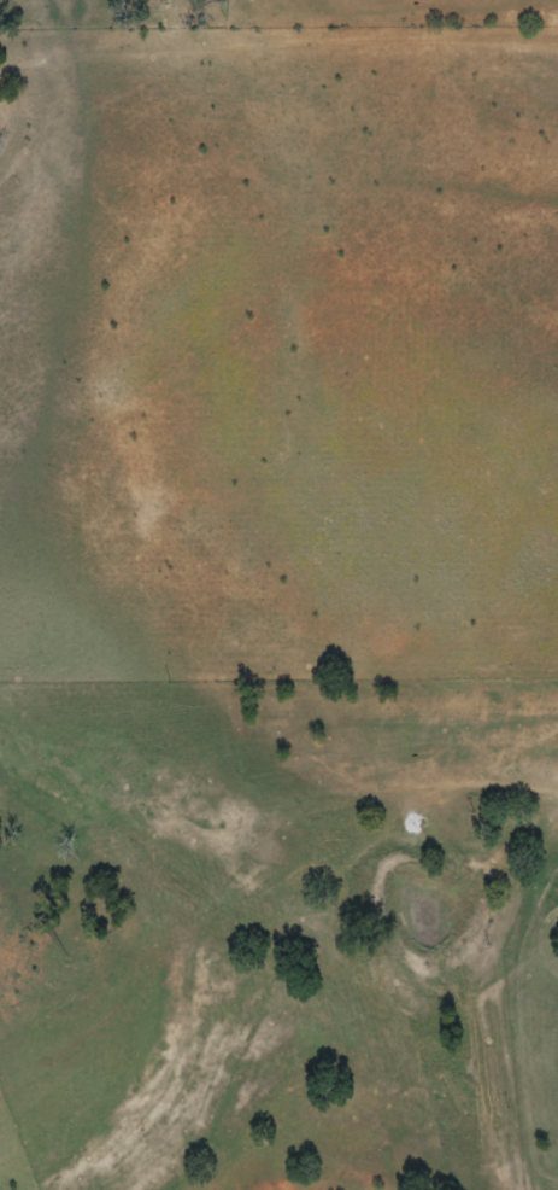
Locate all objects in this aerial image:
road: (493, 1103)

